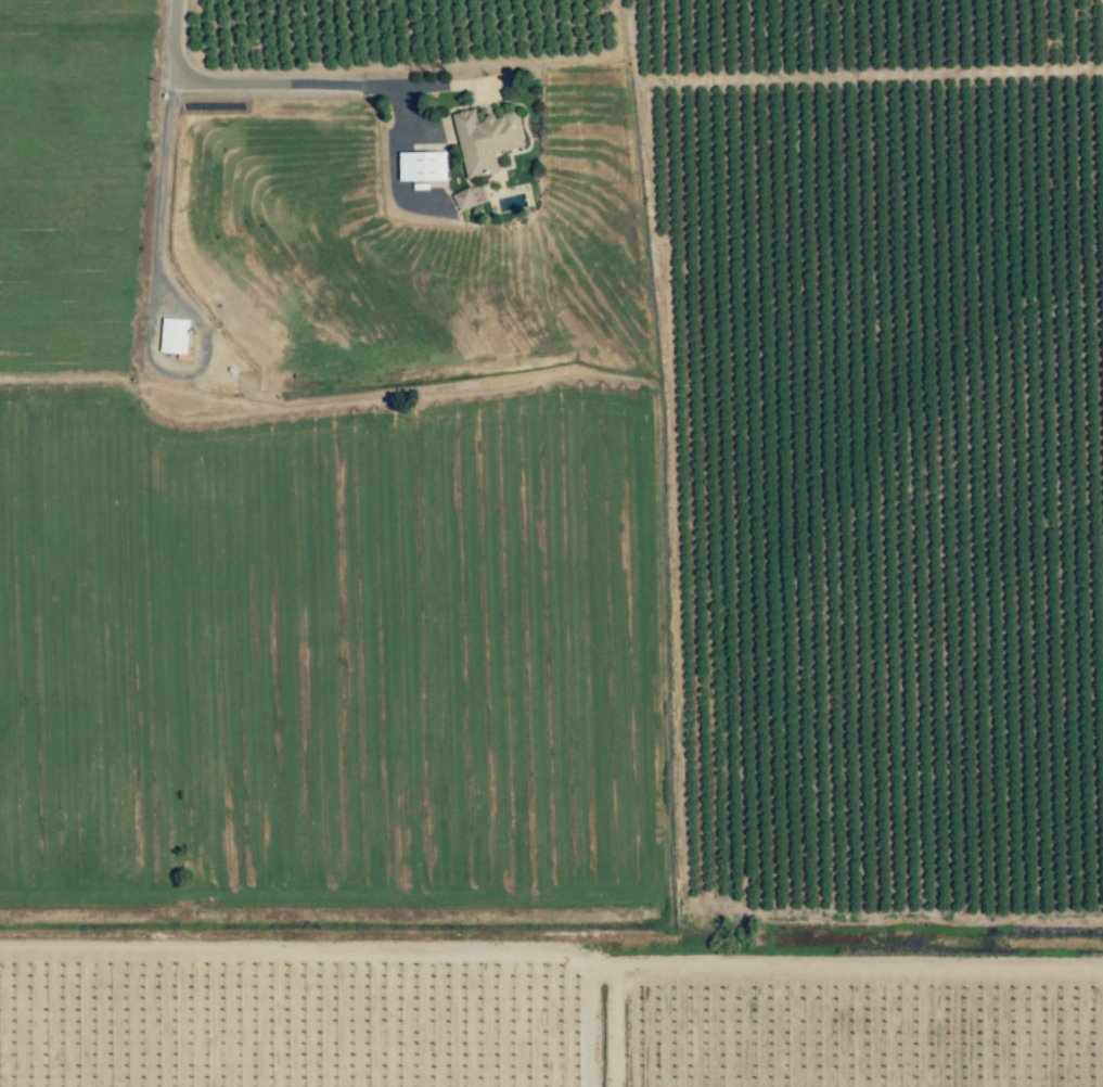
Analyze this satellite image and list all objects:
road: (236, 82)
building: (486, 141)
building: (422, 167)
building: (464, 200)
building: (175, 336)
crop: (547, 547)

